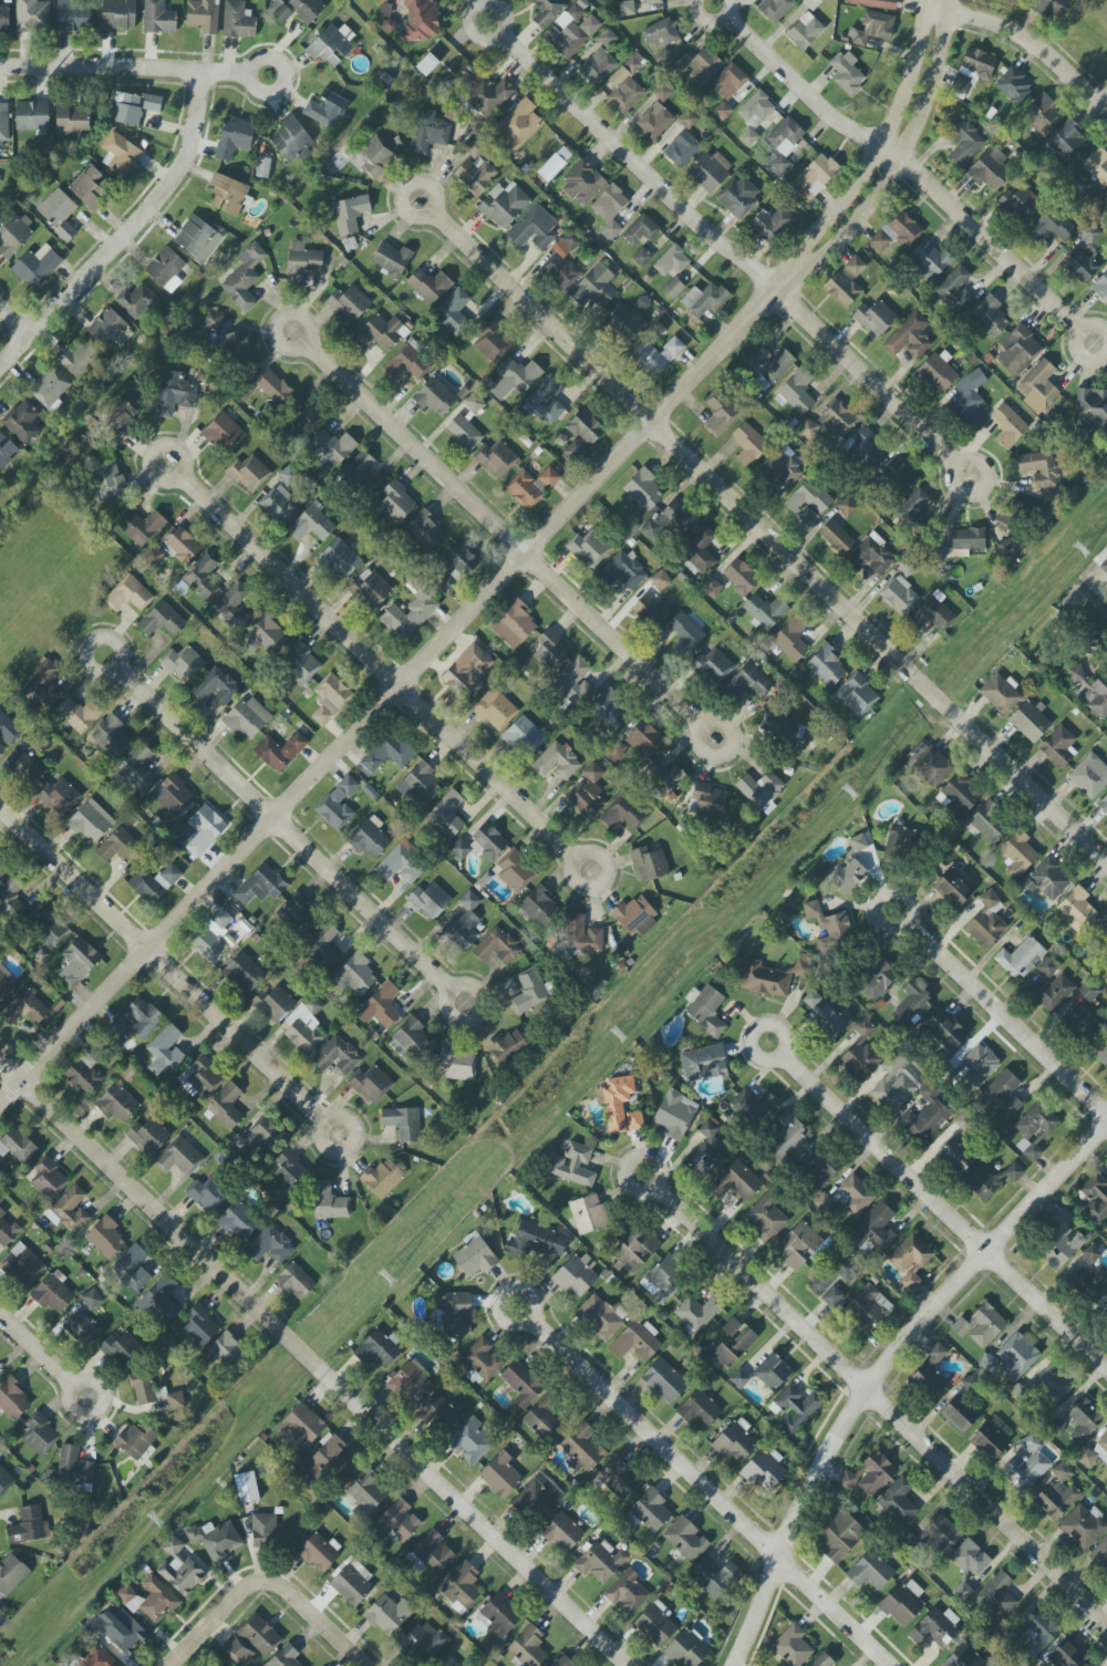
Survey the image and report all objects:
building: (381, 0)
building: (653, 1)
building: (813, 3)
building: (873, 3)
building: (625, 8)
building: (1051, 8)
building: (307, 9)
building: (775, 9)
road: (476, 11)
building: (547, 11)
building: (279, 12)
building: (118, 14)
building: (32, 15)
building: (73, 15)
building: (204, 15)
building: (158, 18)
building: (3, 19)
building: (238, 20)
building: (420, 21)
road: (711, 24)
building: (873, 28)
building: (805, 31)
building: (661, 33)
building: (607, 39)
road: (1027, 40)
building: (565, 41)
building: (332, 45)
road: (254, 66)
building: (598, 66)
building: (699, 66)
road: (125, 68)
building: (973, 70)
building: (847, 73)
building: (728, 82)
building: (625, 85)
building: (1014, 87)
building: (662, 93)
building: (488, 95)
building: (152, 103)
road: (1105, 107)
building: (126, 108)
building: (325, 110)
building: (756, 110)
building: (722, 111)
building: (32, 115)
building: (1043, 115)
building: (687, 120)
building: (72, 121)
building: (654, 121)
building: (3, 123)
building: (518, 126)
building: (428, 132)
building: (234, 137)
building: (748, 137)
building: (292, 141)
building: (964, 142)
building: (784, 143)
building: (1068, 143)
building: (475, 148)
building: (681, 149)
building: (121, 155)
road: (872, 155)
building: (373, 157)
road: (897, 165)
building: (1096, 166)
road: (908, 167)
building: (708, 170)
building: (990, 170)
building: (817, 175)
building: (476, 176)
building: (582, 183)
building: (90, 188)
road: (406, 188)
building: (1106, 194)
building: (227, 195)
building: (738, 196)
building: (1020, 201)
building: (504, 205)
building: (610, 209)
building: (58, 213)
building: (350, 214)
building: (770, 224)
building: (1052, 226)
building: (534, 228)
road: (125, 230)
building: (641, 230)
building: (898, 232)
building: (13, 234)
building: (197, 239)
road: (727, 249)
building: (642, 257)
building: (930, 259)
building: (392, 260)
building: (672, 261)
building: (302, 262)
building: (562, 262)
building: (37, 266)
building: (1079, 266)
building: (165, 267)
building: (853, 267)
building: (245, 278)
building: (430, 286)
building: (1100, 287)
building: (593, 288)
building: (841, 289)
building: (955, 290)
building: (704, 300)
building: (136, 301)
building: (349, 303)
building: (456, 312)
building: (873, 317)
building: (990, 317)
building: (213, 320)
road: (13, 321)
building: (624, 323)
building: (107, 329)
building: (380, 333)
building: (909, 338)
road: (309, 342)
building: (493, 342)
road: (1074, 344)
building: (236, 348)
building: (1016, 349)
building: (658, 355)
building: (79, 361)
building: (406, 363)
building: (768, 365)
building: (938, 372)
building: (518, 374)
building: (1038, 385)
building: (273, 387)
building: (50, 389)
building: (797, 392)
building: (174, 393)
building: (435, 397)
building: (969, 399)
building: (546, 401)
building: (473, 404)
building: (1090, 407)
building: (721, 413)
building: (306, 415)
building: (115, 417)
building: (838, 420)
building: (22, 422)
building: (1007, 426)
building: (586, 427)
building: (808, 430)
building: (224, 433)
building: (464, 433)
building: (749, 445)
building: (333, 446)
building: (865, 447)
building: (7, 452)
building: (573, 452)
building: (496, 458)
road: (958, 465)
building: (780, 468)
building: (1041, 472)
road: (184, 473)
building: (248, 473)
building: (359, 474)
building: (549, 477)
building: (898, 477)
building: (107, 479)
building: (525, 490)
building: (643, 490)
building: (808, 498)
building: (396, 501)
building: (278, 506)
building: (847, 507)
building: (914, 508)
building: (680, 517)
building: (808, 517)
building: (311, 524)
building: (142, 526)
building: (424, 531)
road: (772, 534)
road: (505, 537)
building: (836, 537)
building: (968, 539)
building: (182, 547)
building: (589, 547)
building: (1007, 548)
power tower: (1083, 549)
building: (700, 550)
building: (871, 556)
building: (341, 558)
building: (1100, 562)
building: (455, 568)
building: (622, 571)
building: (203, 577)
building: (741, 577)
building: (660, 580)
building: (712, 588)
building: (370, 590)
building: (128, 594)
building: (899, 596)
building: (234, 607)
building: (650, 610)
building: (766, 611)
building: (931, 613)
building: (408, 617)
building: (162, 620)
building: (514, 624)
building: (685, 634)
building: (268, 635)
building: (1087, 638)
building: (792, 639)
building: (549, 651)
road: (122, 662)
building: (184, 663)
building: (300, 664)
building: (714, 665)
building: (827, 666)
road: (377, 668)
building: (468, 671)
building: (575, 682)
building: (748, 682)
building: (44, 683)
building: (216, 686)
building: (1090, 690)
building: (1001, 693)
building: (857, 695)
road: (389, 697)
building: (330, 700)
building: (495, 710)
building: (609, 711)
building: (79, 714)
building: (247, 717)
building: (1030, 722)
road: (710, 723)
building: (8, 728)
building: (782, 731)
building: (111, 736)
building: (524, 737)
building: (644, 739)
building: (1058, 747)
building: (280, 752)
building: (385, 754)
building: (556, 762)
building: (932, 767)
building: (135, 769)
building: (27, 770)
building: (1089, 776)
building: (665, 778)
building: (421, 785)
building: (761, 790)
power tower: (849, 791)
building: (588, 793)
building: (173, 795)
building: (59, 796)
building: (958, 797)
building: (710, 799)
building: (1104, 803)
building: (338, 805)
building: (447, 814)
building: (623, 815)
building: (90, 824)
building: (986, 826)
building: (205, 830)
road: (283, 830)
building: (370, 838)
building: (901, 839)
building: (858, 844)
building: (482, 845)
building: (120, 847)
building: (1017, 853)
road: (581, 855)
building: (650, 865)
building: (400, 866)
building: (2, 870)
building: (515, 872)
building: (846, 876)
building: (1047, 880)
building: (154, 882)
building: (260, 886)
building: (953, 888)
building: (11, 897)
road: (880, 899)
building: (430, 901)
building: (539, 907)
building: (1076, 909)
building: (297, 915)
building: (635, 917)
building: (986, 921)
building: (464, 923)
building: (50, 928)
building: (829, 928)
building: (1100, 930)
building: (582, 935)
building: (213, 938)
building: (322, 946)
building: (496, 948)
building: (1020, 959)
building: (77, 962)
road: (162, 965)
building: (244, 972)
building: (354, 974)
building: (769, 977)
building: (877, 977)
building: (6, 986)
road: (458, 986)
building: (1051, 987)
building: (529, 992)
building: (913, 1003)
building: (275, 1004)
building: (383, 1004)
building: (313, 1005)
building: (25, 1008)
building: (706, 1011)
building: (825, 1014)
building: (144, 1017)
road: (1007, 1018)
building: (1083, 1023)
building: (121, 1025)
building: (303, 1029)
road: (754, 1032)
building: (945, 1033)
power tower: (619, 1034)
building: (413, 1038)
building: (508, 1047)
building: (167, 1048)
building: (1101, 1053)
building: (860, 1054)
building: (337, 1056)
building: (459, 1063)
building: (703, 1063)
building: (979, 1066)
building: (85, 1072)
building: (371, 1083)
building: (893, 1084)
building: (1001, 1096)
building: (615, 1101)
building: (117, 1103)
building: (226, 1106)
building: (754, 1106)
building: (928, 1114)
building: (675, 1115)
road: (329, 1118)
building: (634, 1121)
building: (404, 1122)
building: (1034, 1130)
building: (789, 1134)
building: (148, 1135)
building: (265, 1135)
building: (238, 1146)
building: (17, 1147)
building: (706, 1152)
building: (179, 1157)
building: (955, 1157)
building: (572, 1165)
road: (630, 1165)
building: (820, 1169)
building: (289, 1170)
building: (1013, 1172)
building: (382, 1178)
building: (982, 1179)
building: (48, 1180)
building: (736, 1182)
building: (209, 1196)
building: (853, 1197)
building: (1096, 1197)
building: (330, 1202)
building: (824, 1202)
building: (70, 1210)
road: (944, 1213)
building: (588, 1214)
building: (767, 1219)
building: (1063, 1220)
building: (239, 1221)
building: (875, 1229)
building: (8, 1231)
building: (106, 1238)
building: (540, 1240)
building: (270, 1245)
building: (799, 1245)
building: (1061, 1248)
building: (634, 1250)
building: (474, 1255)
building: (911, 1259)
building: (23, 1265)
building: (132, 1267)
building: (835, 1274)
building: (1090, 1275)
building: (575, 1276)
power tower: (386, 1277)
building: (663, 1280)
building: (296, 1281)
building: (52, 1293)
road: (505, 1294)
building: (162, 1297)
building: (832, 1297)
building: (867, 1310)
building: (697, 1312)
building: (1105, 1313)
building: (453, 1314)
building: (601, 1316)
building: (981, 1325)
building: (200, 1326)
building: (81, 1328)
building: (637, 1342)
building: (733, 1343)
building: (122, 1348)
building: (379, 1349)
building: (229, 1351)
road: (37, 1352)
building: (937, 1353)
building: (1016, 1356)
building: (484, 1359)
road: (313, 1364)
road: (884, 1372)
building: (764, 1374)
building: (664, 1380)
building: (928, 1380)
building: (411, 1383)
building: (521, 1384)
building: (1052, 1385)
building: (142, 1387)
road: (73, 1388)
building: (13, 1399)
building: (175, 1401)
road: (882, 1405)
building: (797, 1408)
building: (699, 1409)
building: (439, 1414)
building: (960, 1415)
building: (542, 1419)
building: (1084, 1421)
building: (1056, 1425)
building: (301, 1426)
building: (39, 1435)
building: (136, 1439)
building: (990, 1440)
building: (470, 1441)
building: (734, 1442)
building: (583, 1447)
building: (1094, 1453)
building: (1026, 1466)
building: (74, 1467)
building: (764, 1470)
building: (1062, 1471)
building: (870, 1474)
building: (500, 1477)
building: (619, 1478)
building: (4, 1481)
building: (246, 1488)
building: (365, 1492)
road: (708, 1492)
building: (537, 1497)
building: (1057, 1499)
building: (898, 1501)
building: (651, 1511)
power tower: (155, 1520)
building: (400, 1520)
building: (28, 1527)
building: (1083, 1527)
building: (266, 1529)
building: (562, 1533)
building: (943, 1533)
building: (840, 1536)
building: (686, 1539)
building: (216, 1540)
building: (319, 1552)
building: (433, 1553)
building: (1100, 1553)
building: (970, 1559)
building: (601, 1561)
building: (179, 1567)
building: (870, 1571)
building: (11, 1573)
building: (714, 1577)
building: (352, 1582)
building: (461, 1589)
building: (963, 1591)
building: (627, 1593)
building: (997, 1596)
building: (151, 1598)
building: (903, 1603)
building: (387, 1614)
road: (312, 1616)
building: (497, 1618)
road: (208, 1623)
building: (655, 1625)
building: (935, 1627)
building: (120, 1631)
building: (1039, 1633)
building: (259, 1635)
building: (424, 1642)
building: (793, 1646)
building: (528, 1647)
building: (686, 1649)
building: (237, 1651)
building: (1066, 1655)
building: (284, 1657)
building: (964, 1657)
building: (97, 1658)
building: (823, 1660)
building: (449, 1662)
building: (563, 1662)
building: (219, 1665)

